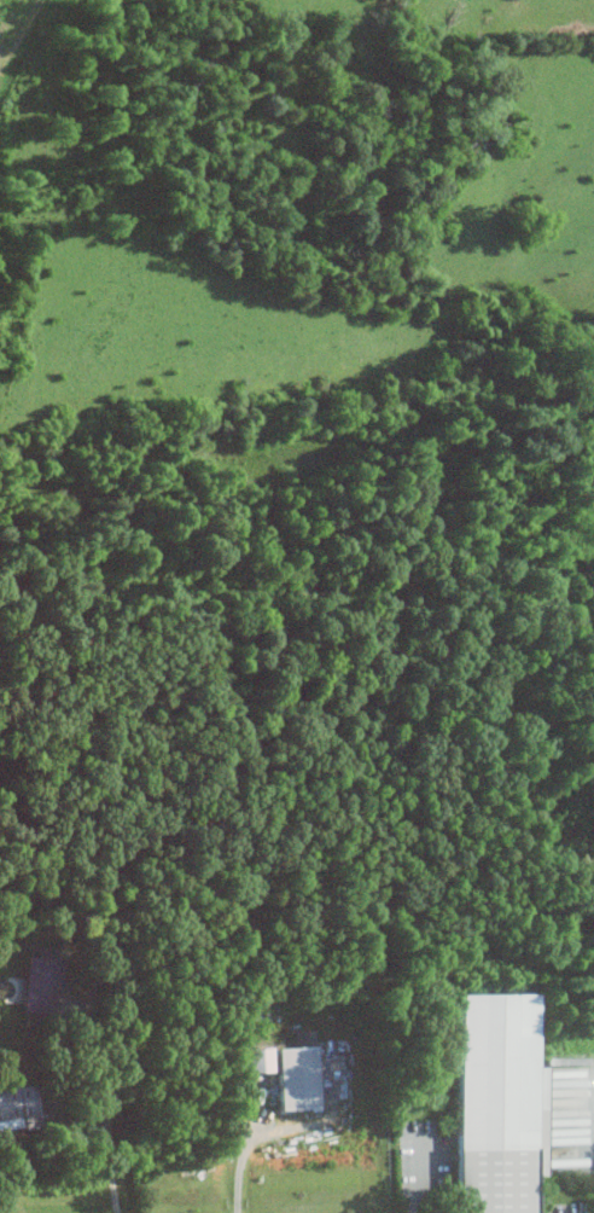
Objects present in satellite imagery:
building: (43, 985)
building: (261, 1060)
building: (299, 1079)
road: (113, 1103)
building: (496, 1103)
building: (18, 1107)
road: (89, 1121)
water tower: (532, 1161)
road: (243, 1166)
road: (413, 1207)

